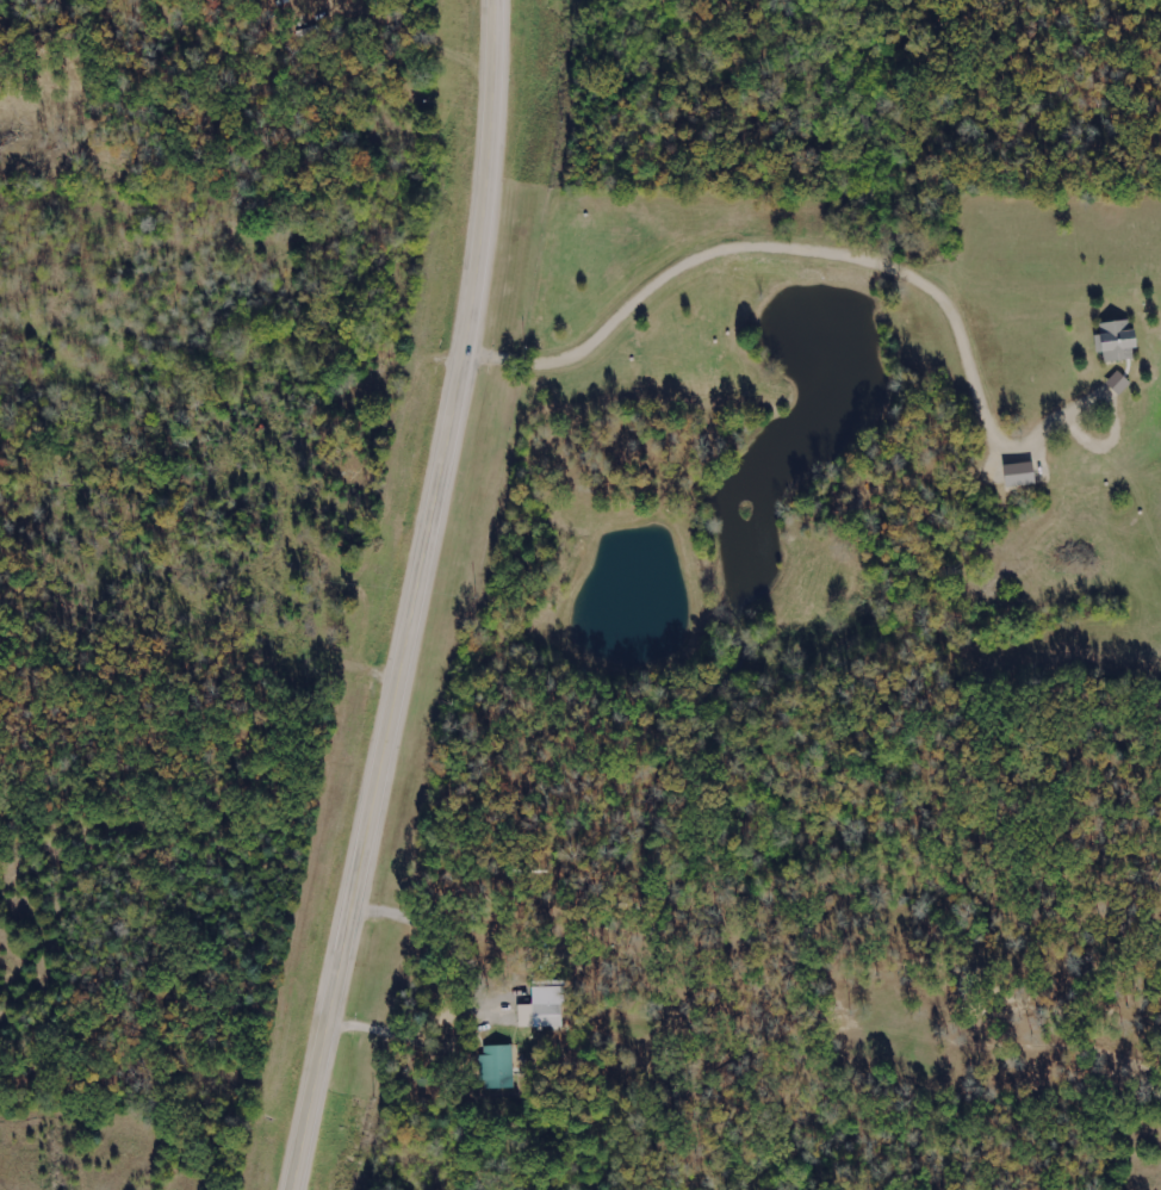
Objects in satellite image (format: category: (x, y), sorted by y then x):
road: (993, 219)
building: (1117, 341)
building: (1118, 384)
building: (1020, 475)
road: (412, 597)
building: (542, 1006)
building: (498, 1067)

